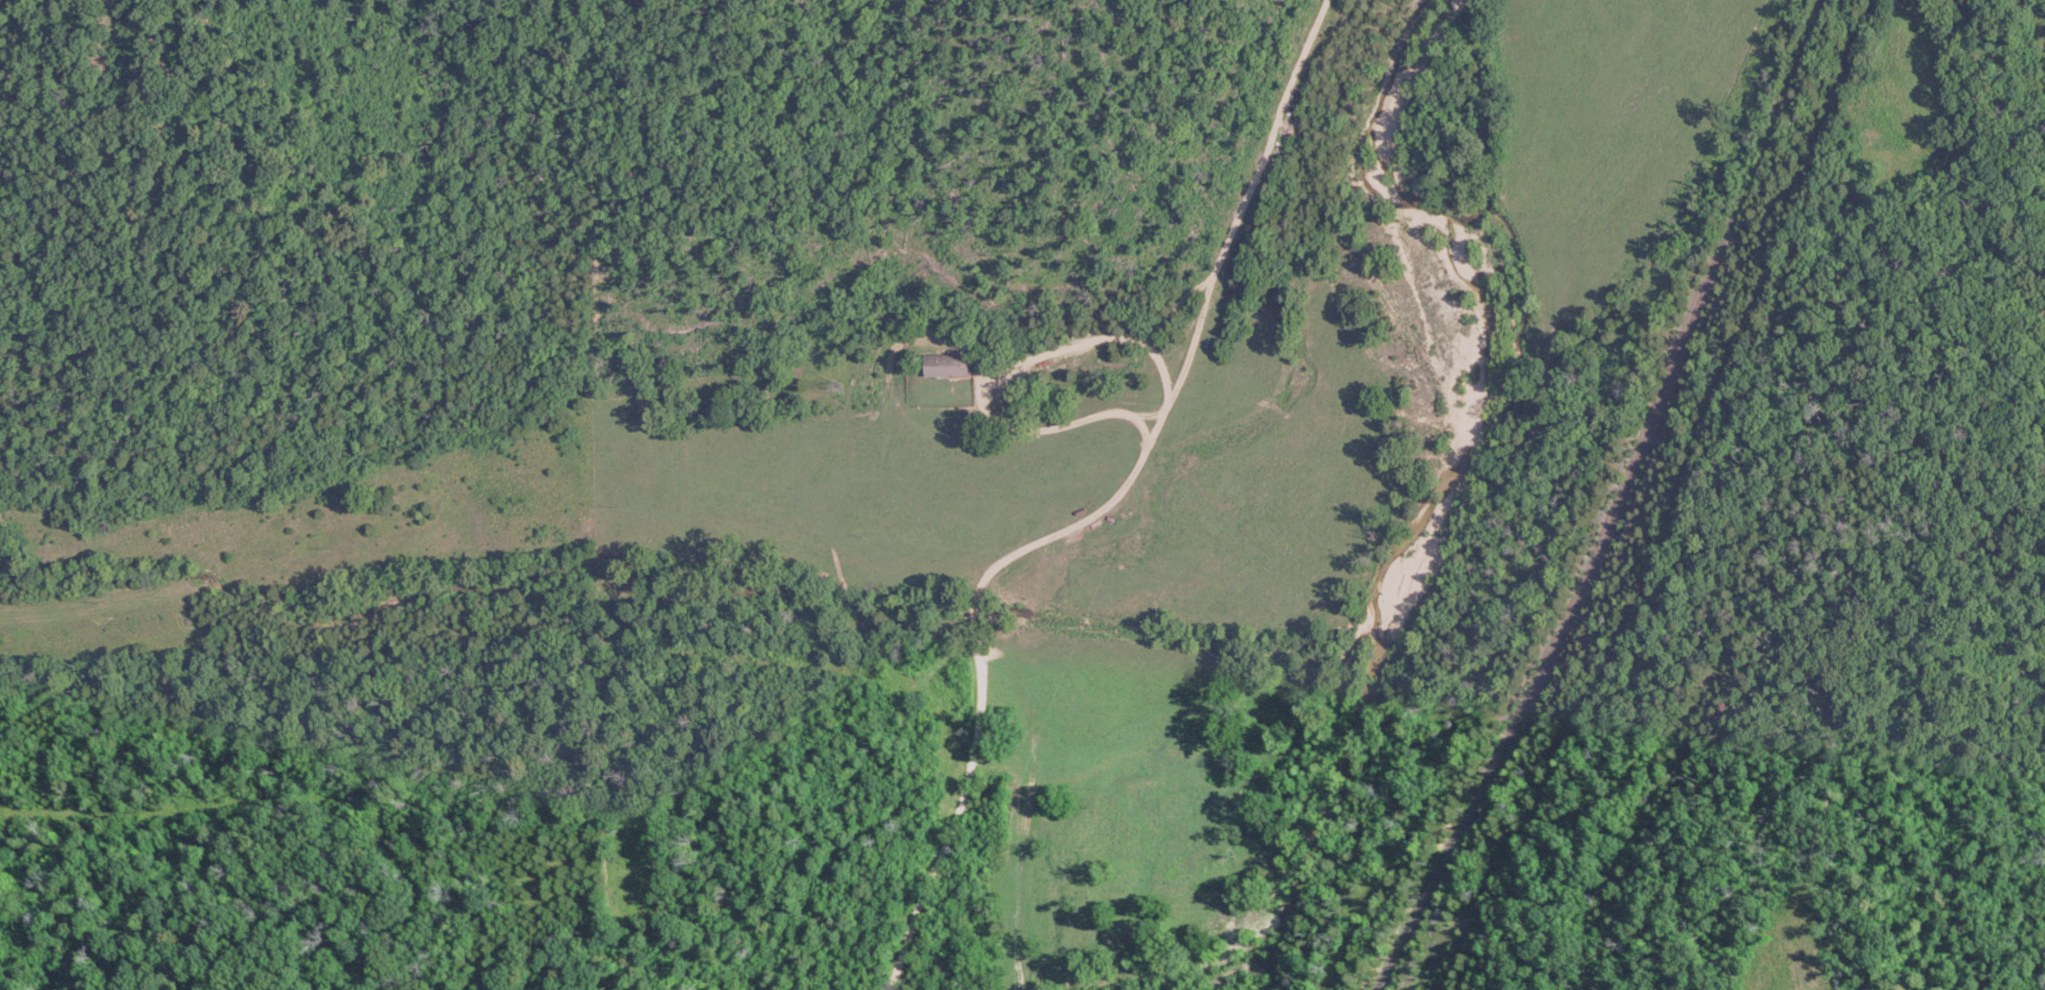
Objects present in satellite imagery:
building: (949, 366)
road: (992, 378)
railway: (1619, 503)
road: (1101, 512)

